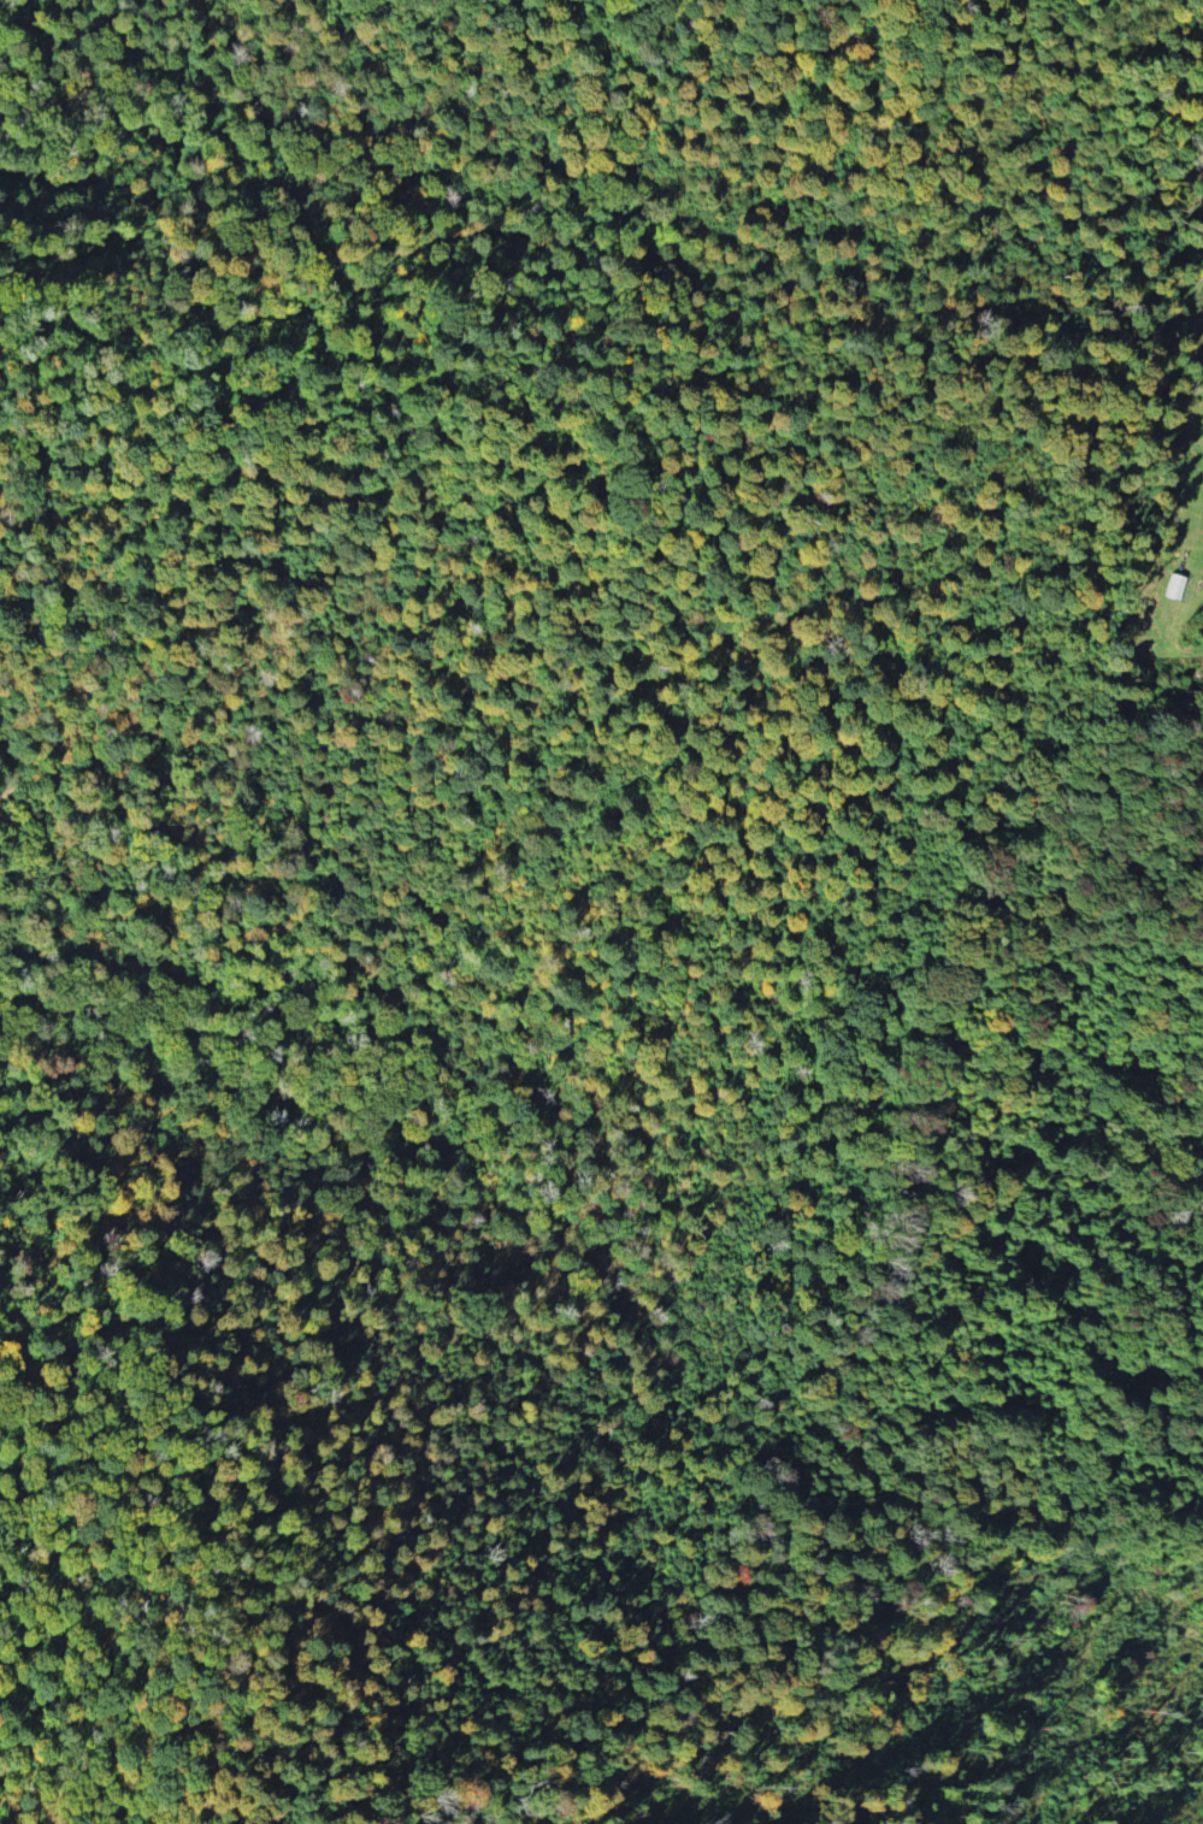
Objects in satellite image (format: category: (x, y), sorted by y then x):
road: (1168, 628)
road: (10, 772)

